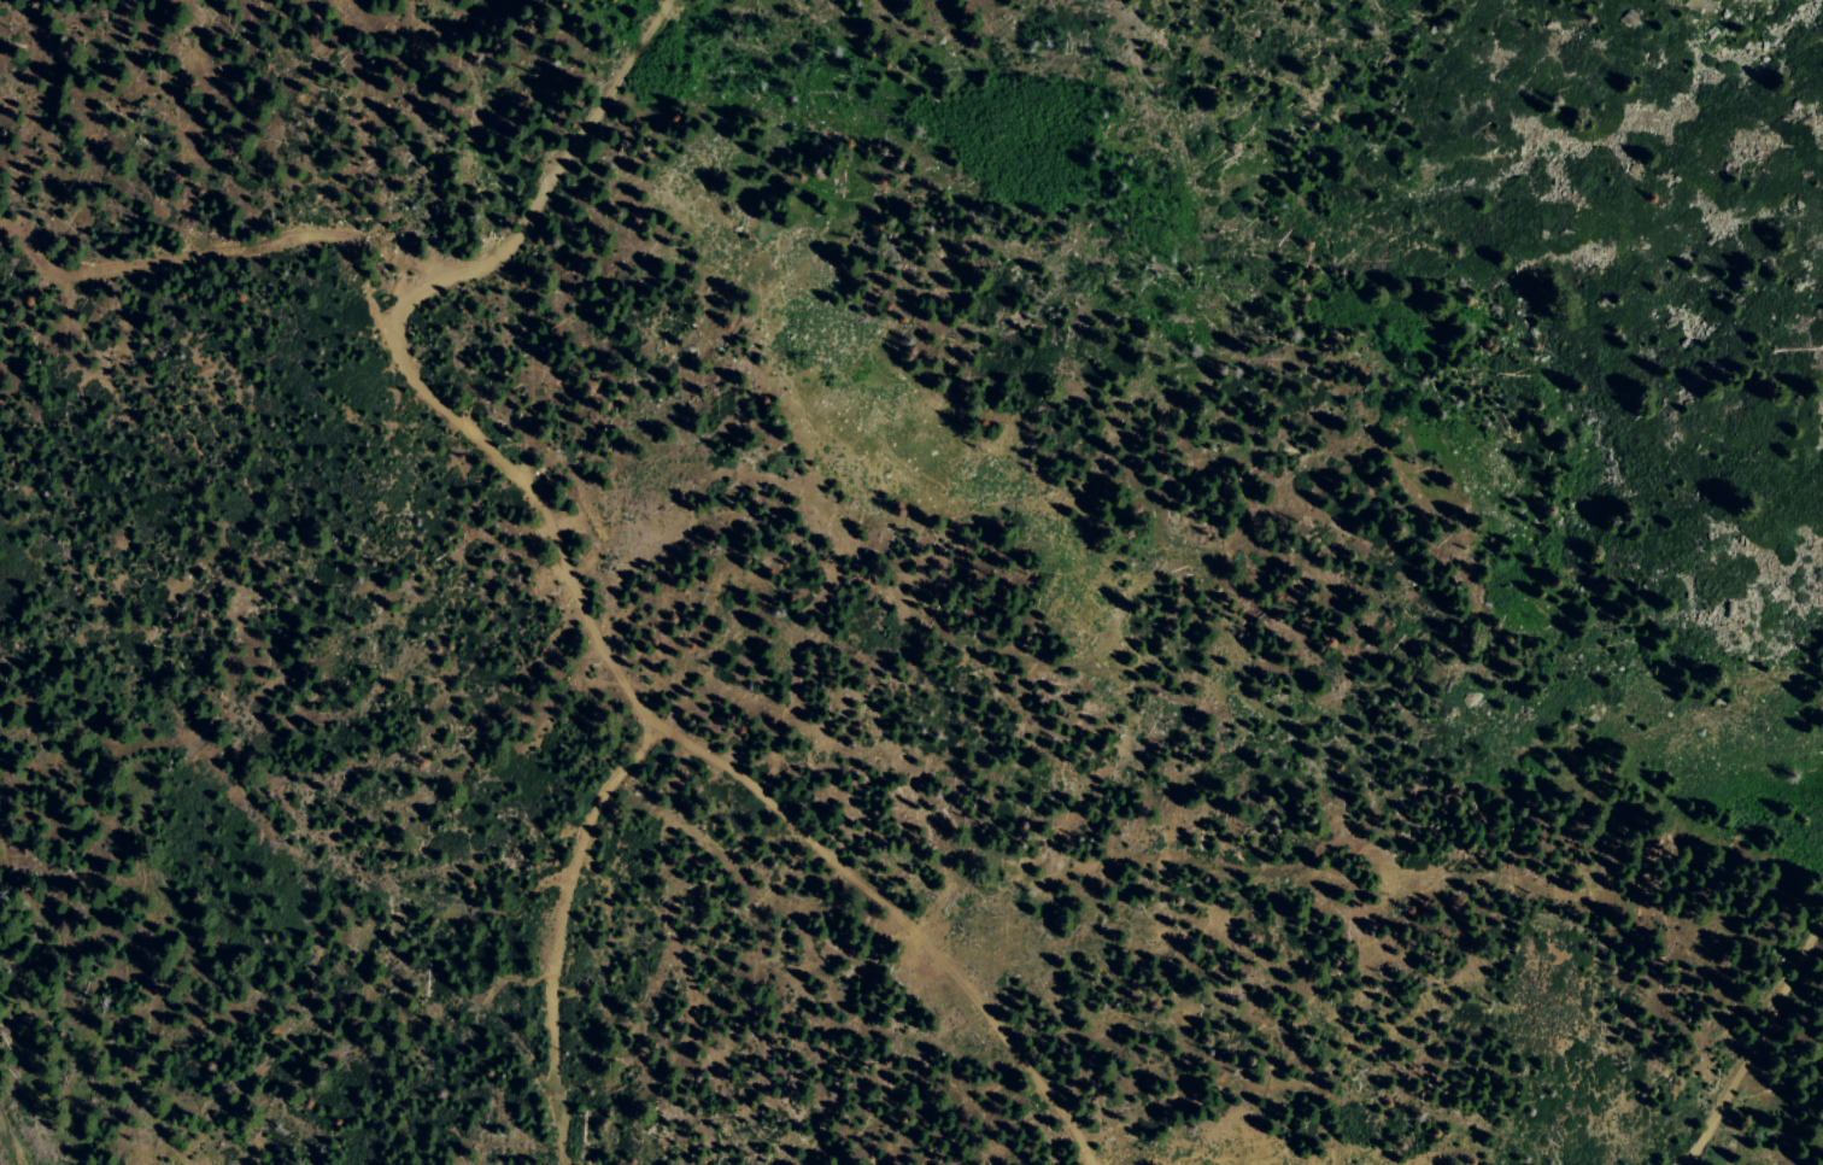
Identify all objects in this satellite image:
road: (468, 427)

